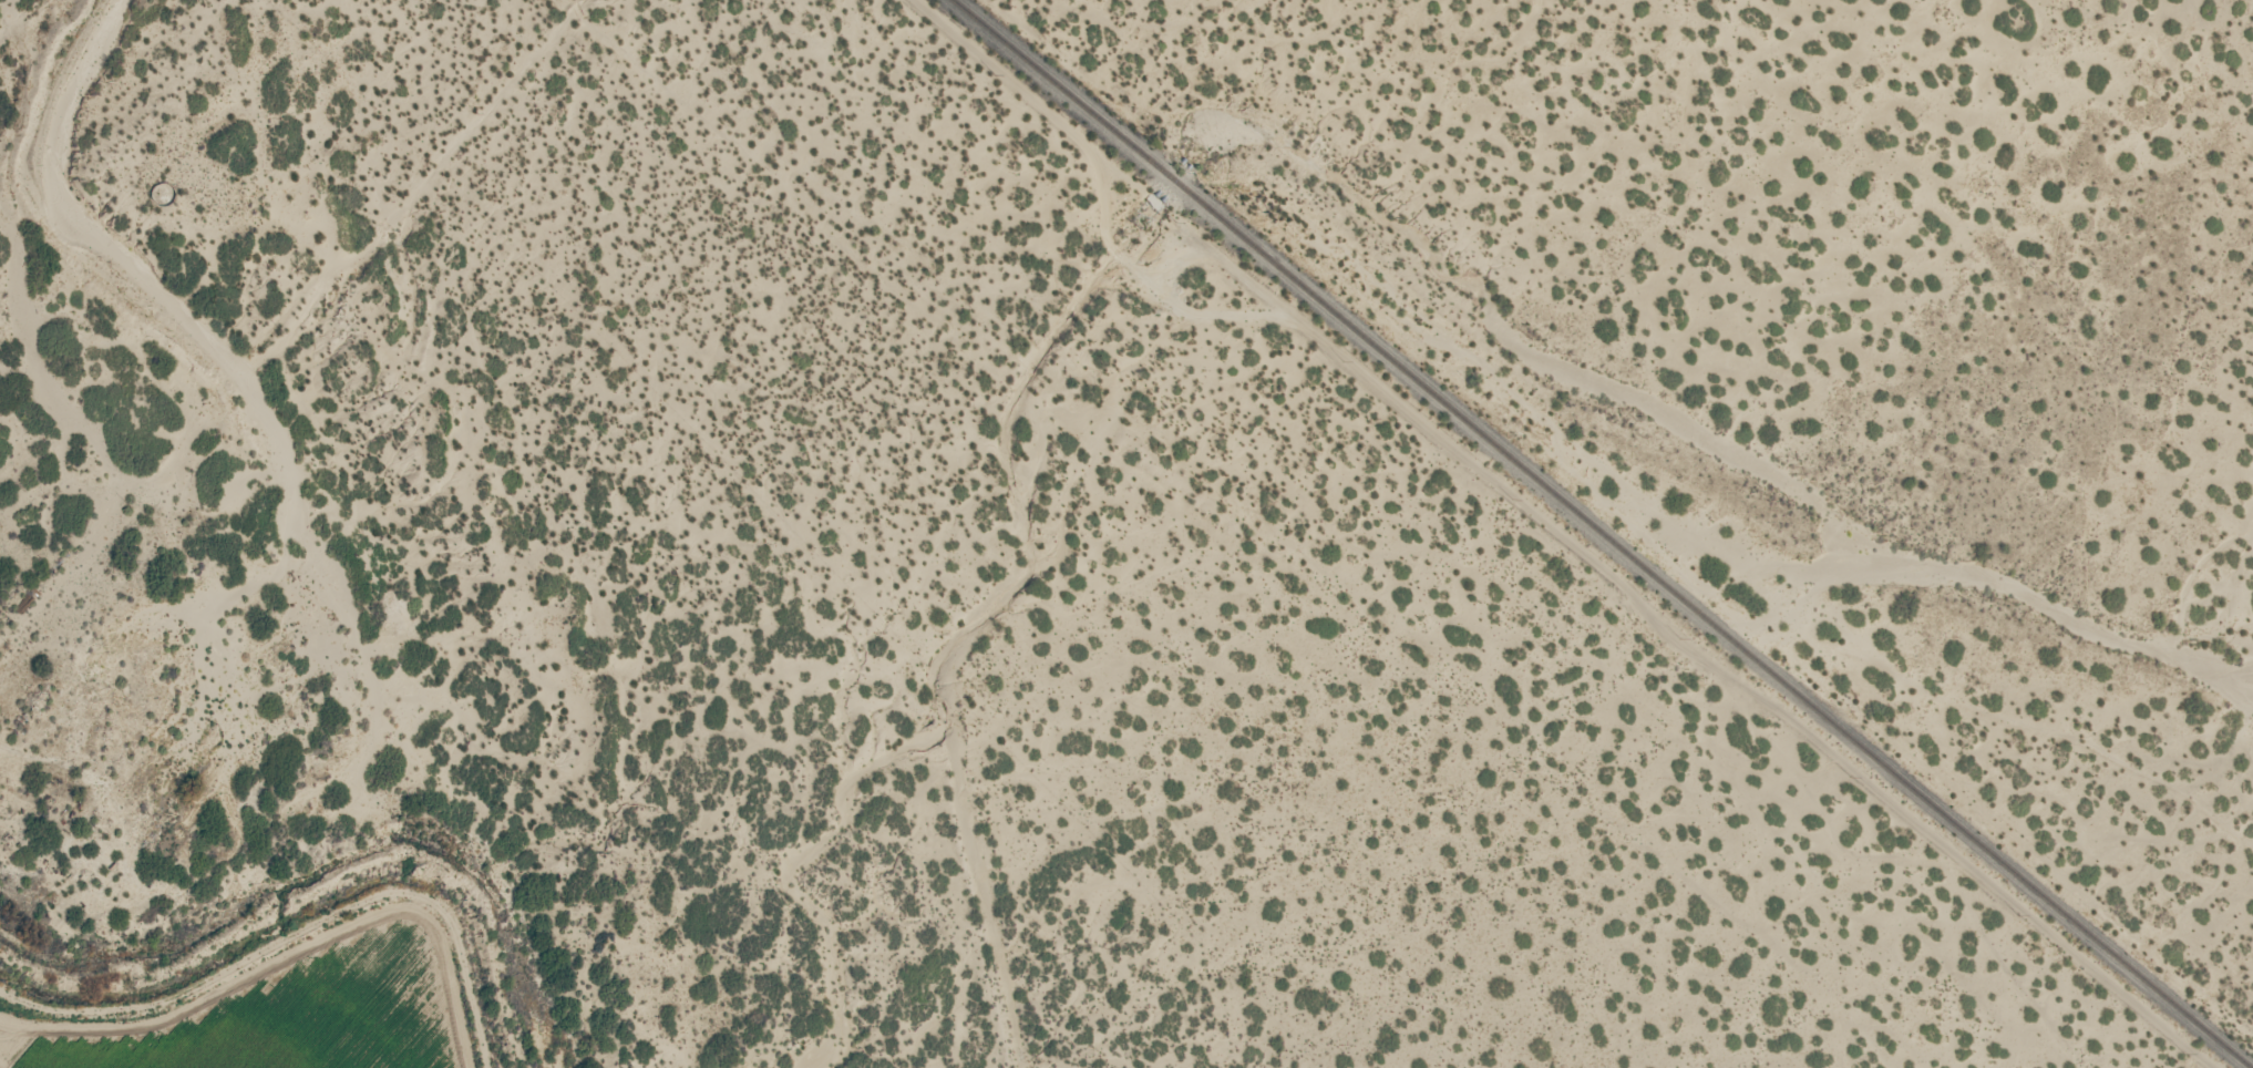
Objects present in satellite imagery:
railway: (1237, 532)
railway: (1596, 533)
road: (1556, 536)

